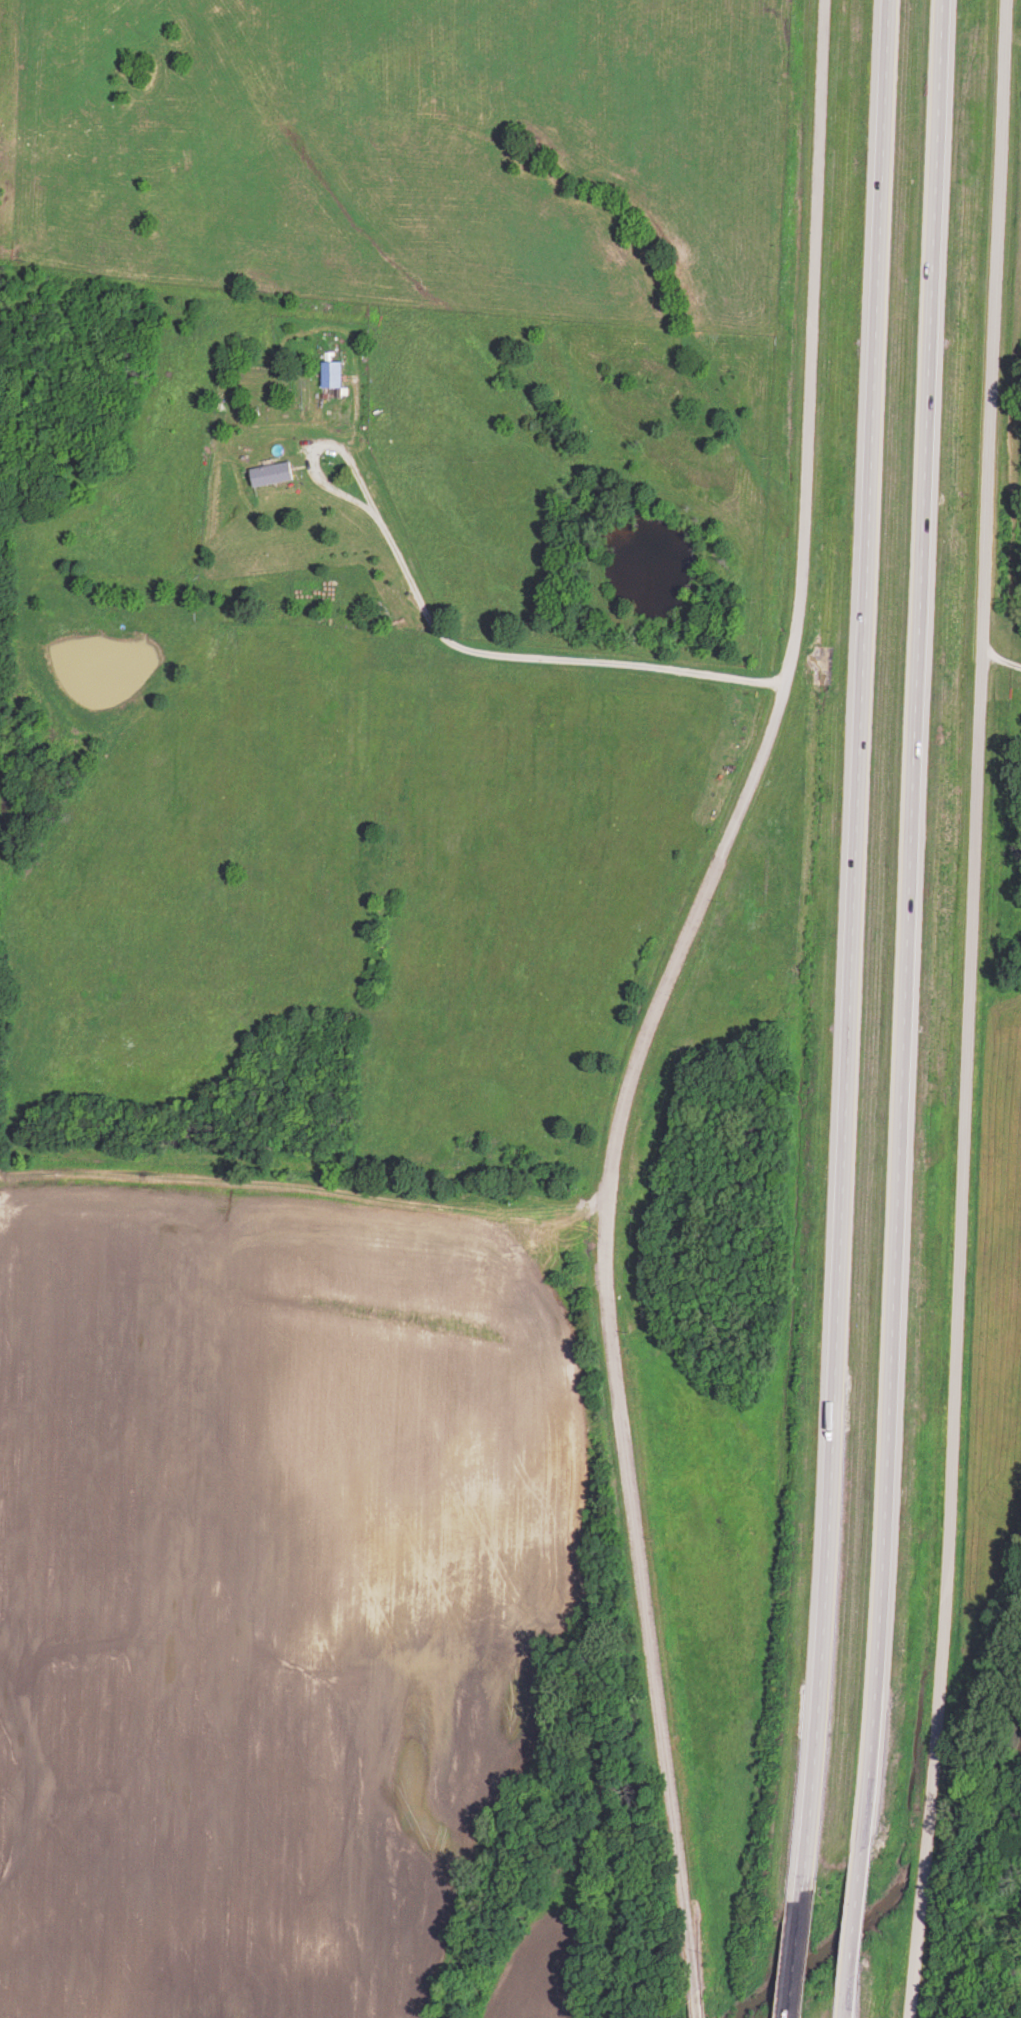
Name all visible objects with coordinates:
building: (272, 476)
road: (309, 481)
road: (539, 658)
road: (906, 925)
road: (853, 952)
road: (661, 999)
road: (969, 1009)
road: (854, 1931)
road: (796, 1961)
road: (846, 2014)
road: (698, 2015)

